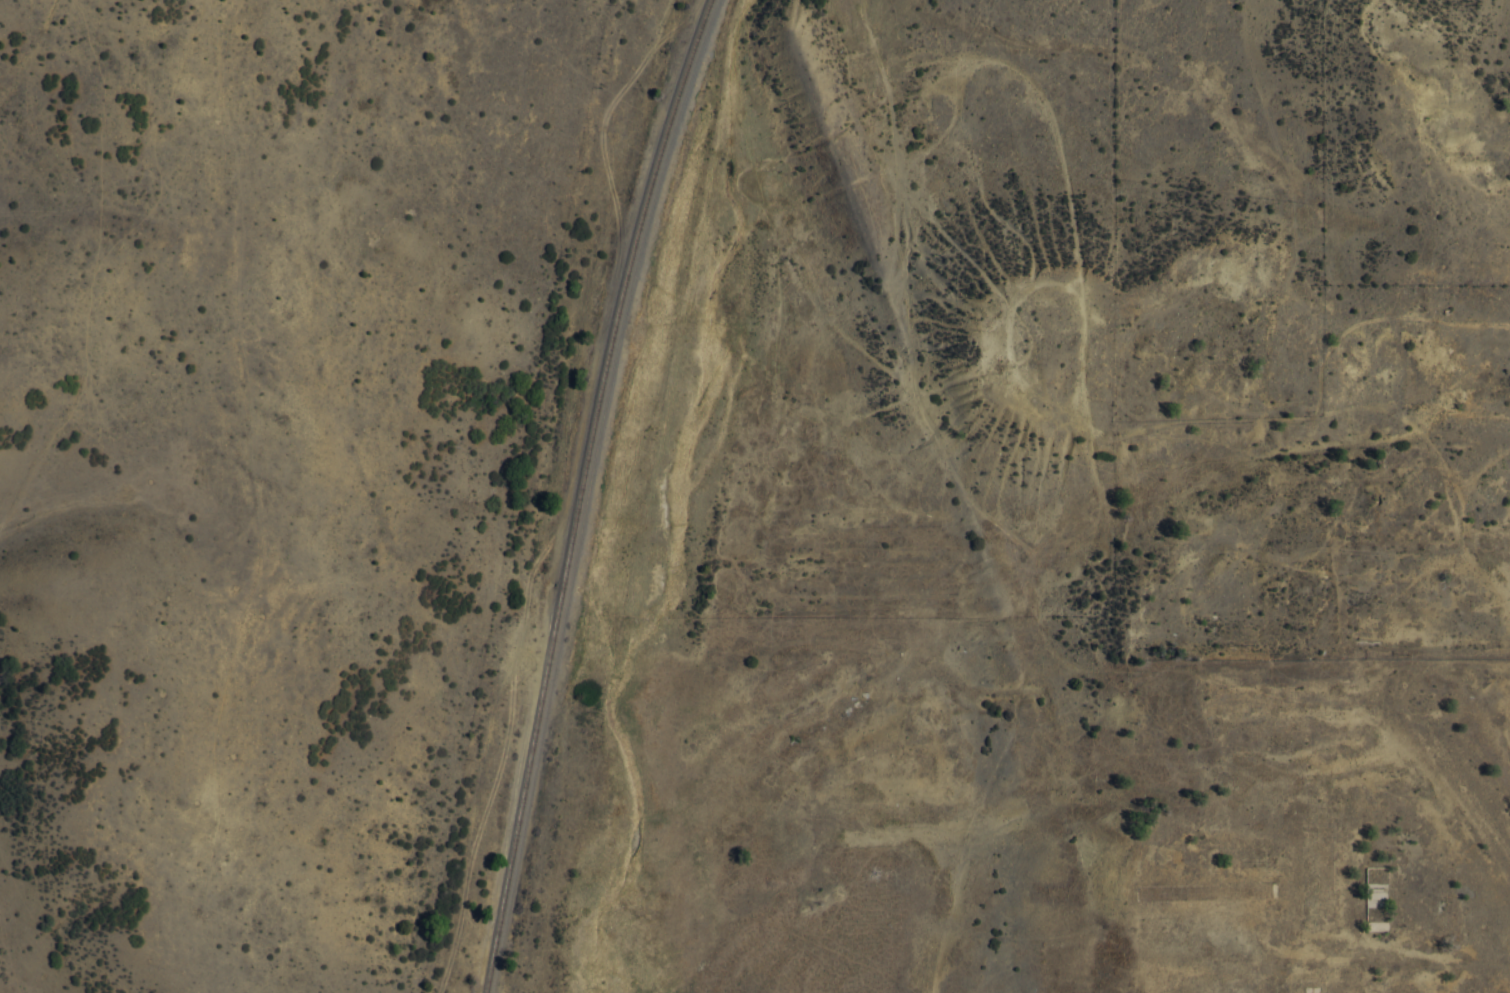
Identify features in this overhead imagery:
railway: (595, 392)
park: (1462, 790)
railway: (500, 892)
road: (208, 957)

